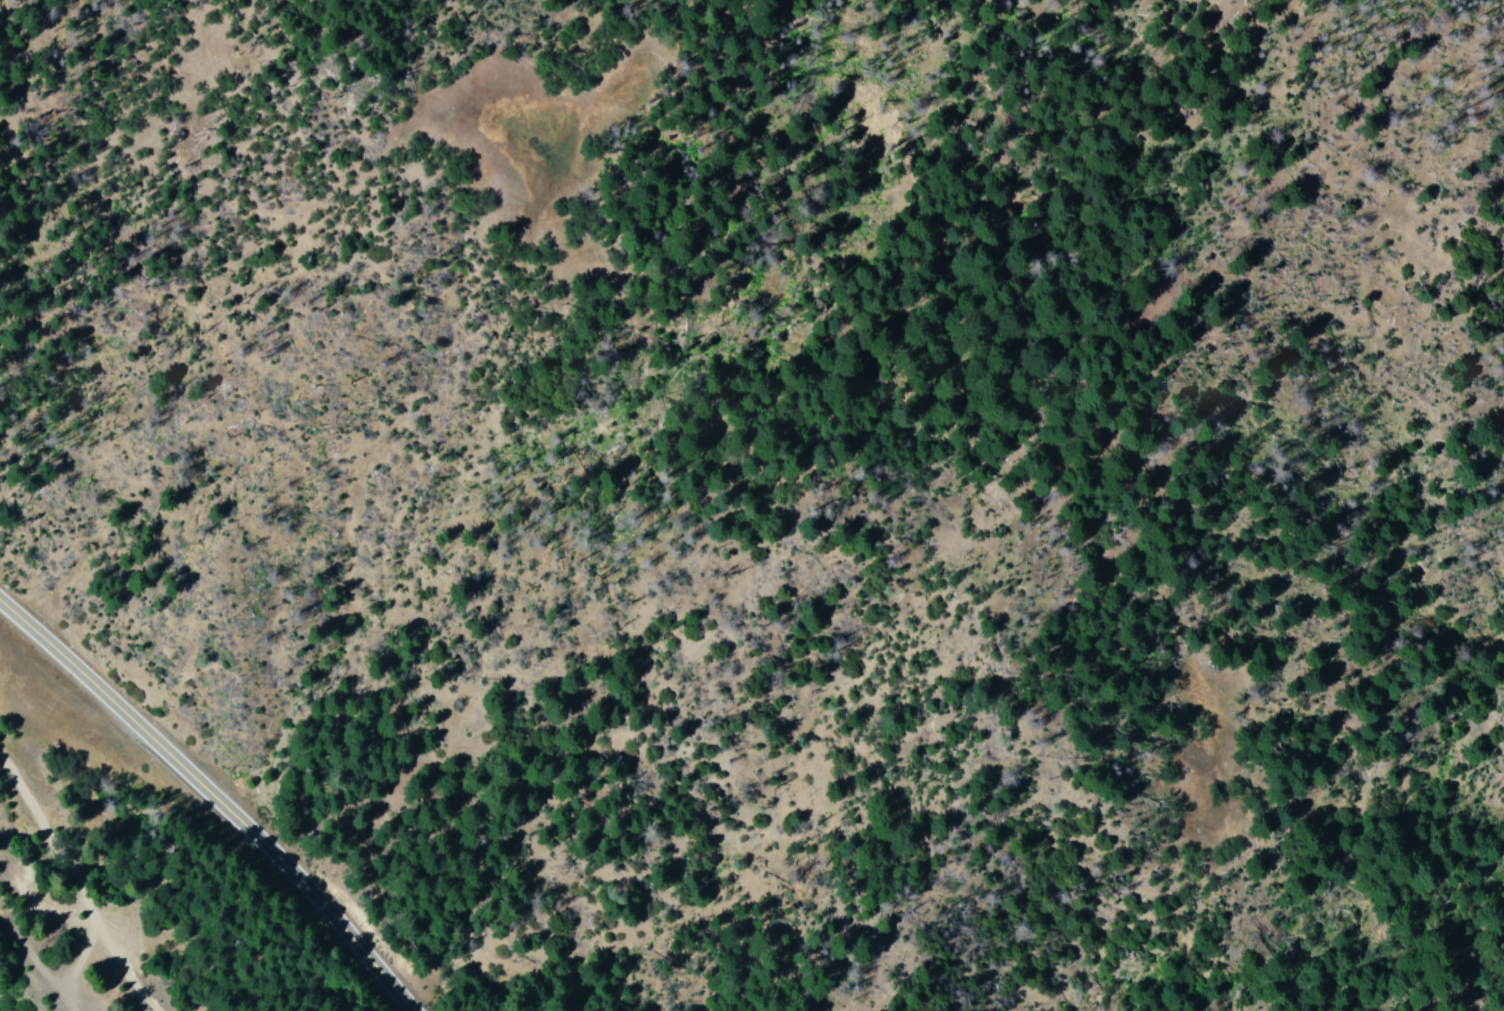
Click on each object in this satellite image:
road: (237, 785)
road: (74, 876)

